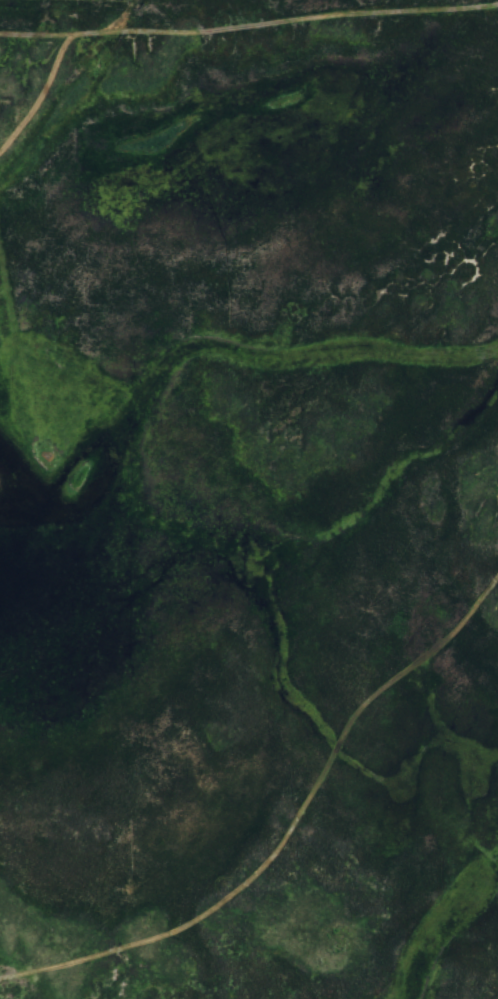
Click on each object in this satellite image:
crop: (249, 499)

